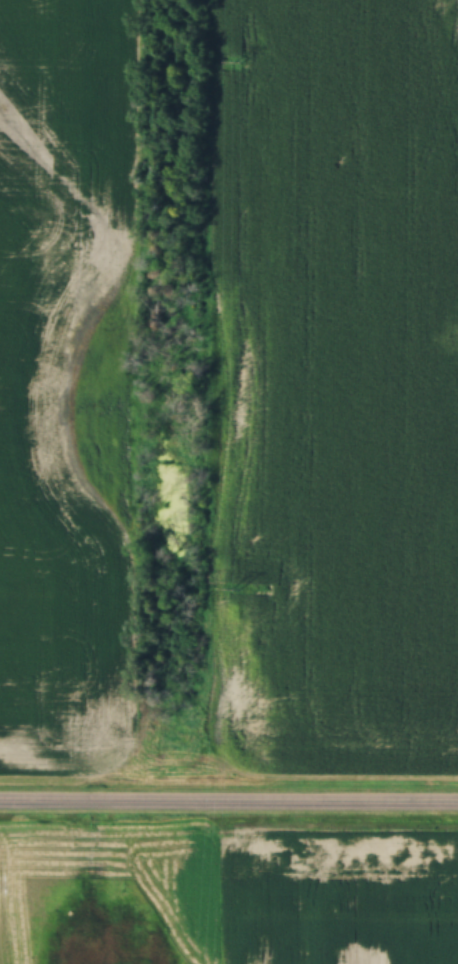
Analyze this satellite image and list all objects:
power tower: (240, 61)
power tower: (236, 588)
road: (229, 805)

